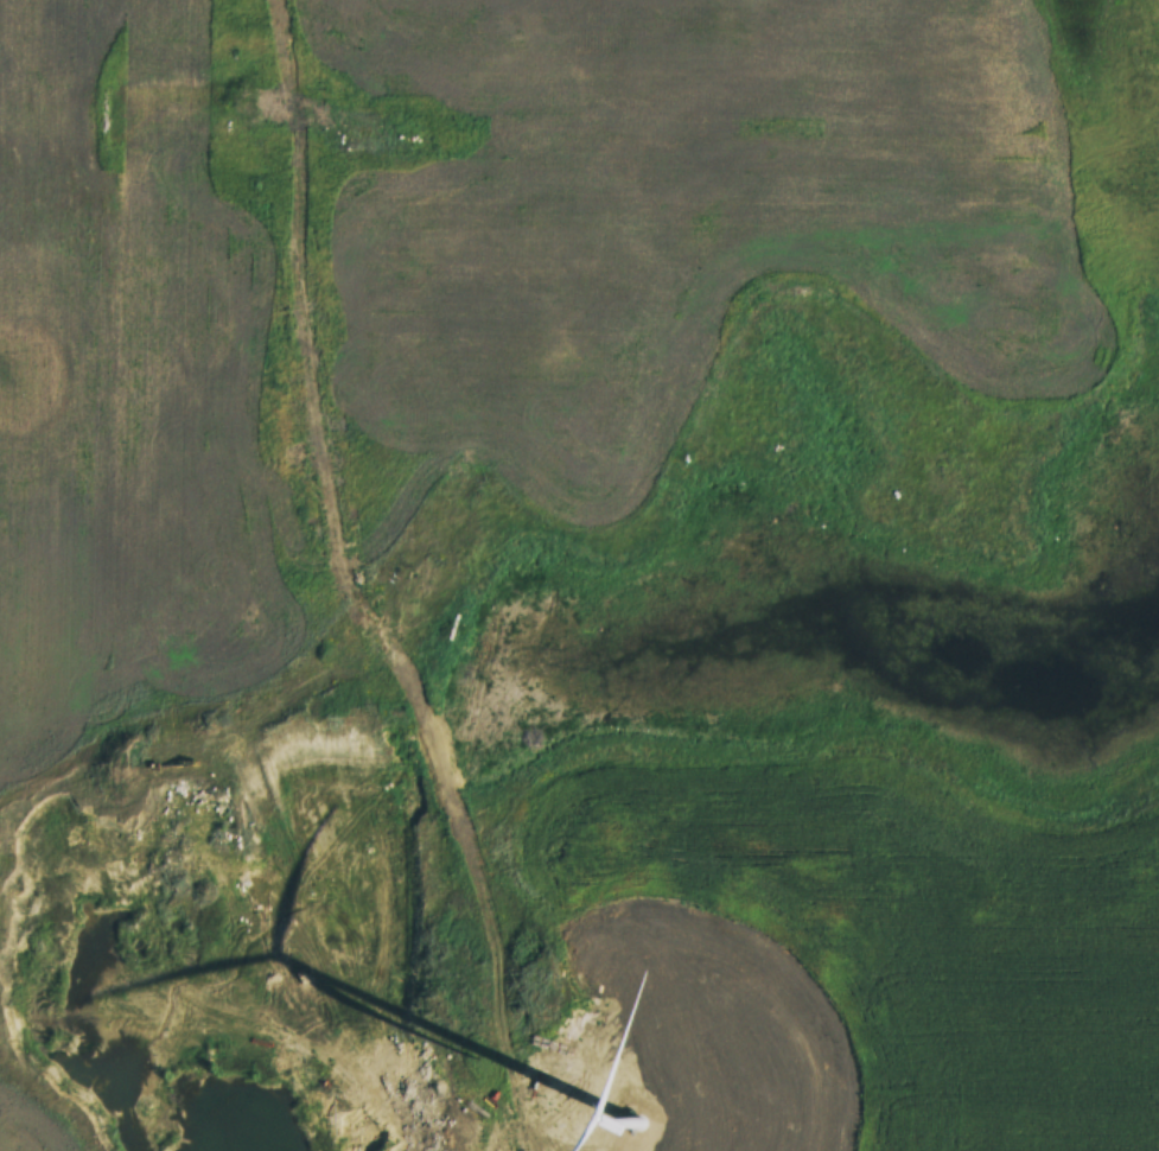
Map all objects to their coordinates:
wind turbine: (609, 1119)

